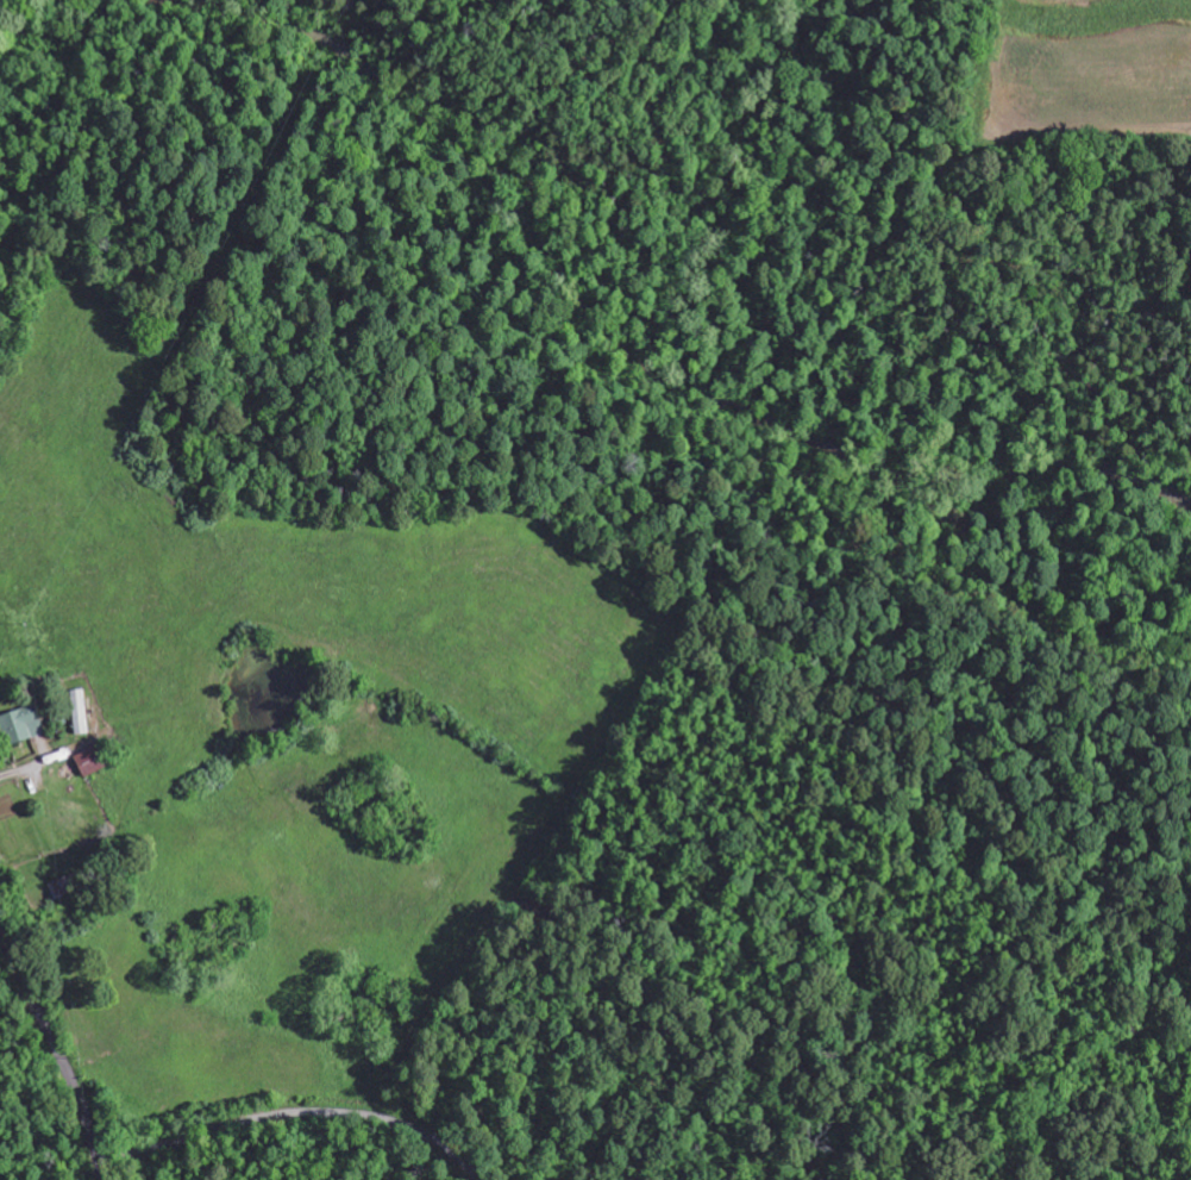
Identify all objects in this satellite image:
building: (76, 712)
building: (19, 725)
building: (88, 762)
building: (58, 889)
road: (58, 1048)
road: (294, 1110)

